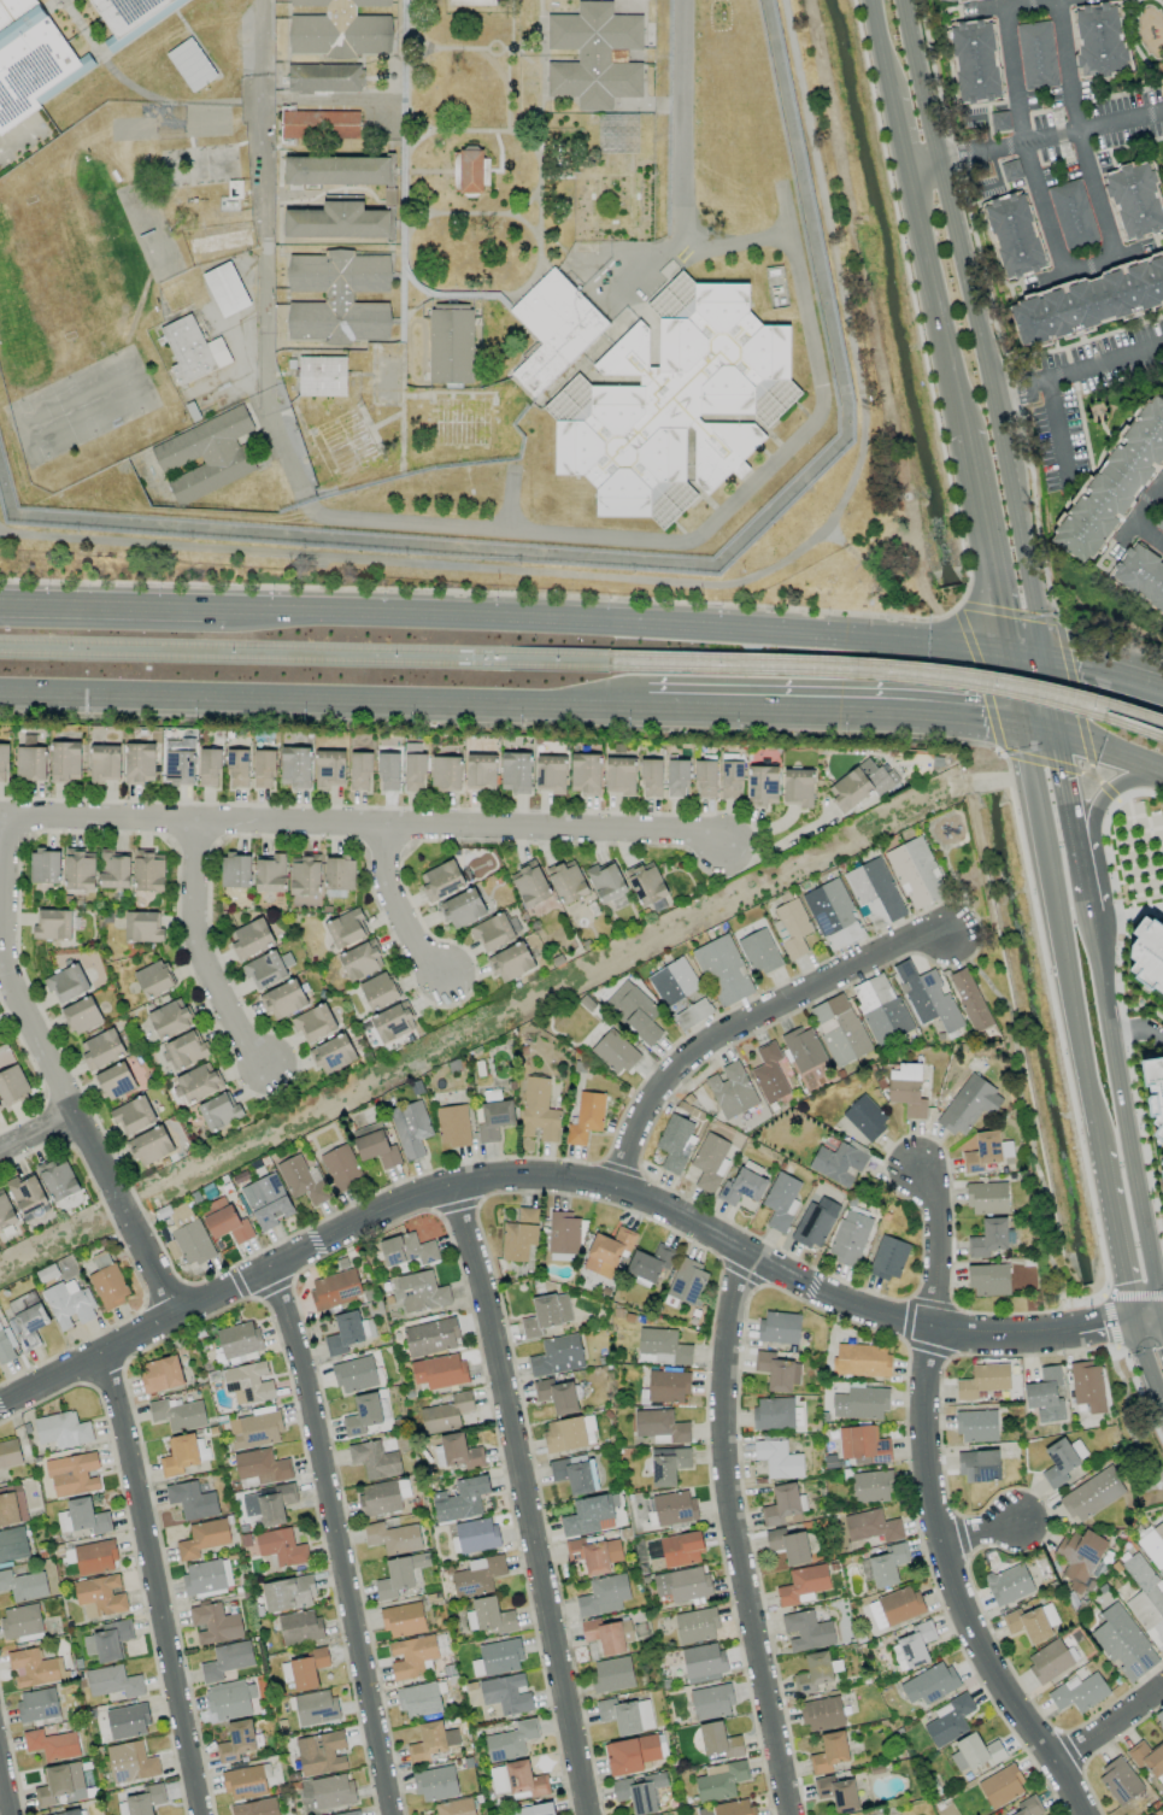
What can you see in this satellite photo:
building: (939, 0)
building: (472, 2)
road: (1015, 4)
road: (260, 17)
building: (340, 29)
building: (1099, 41)
road: (881, 47)
building: (594, 55)
building: (1035, 55)
building: (29, 60)
building: (974, 61)
building: (190, 64)
building: (325, 78)
building: (999, 121)
building: (319, 124)
road: (1076, 131)
road: (900, 133)
road: (1050, 134)
road: (1022, 143)
building: (198, 165)
road: (924, 168)
building: (337, 170)
building: (469, 170)
building: (1010, 170)
building: (1134, 200)
building: (1071, 215)
building: (337, 222)
building: (1014, 235)
building: (218, 241)
road: (1102, 264)
park: (54, 269)
road: (266, 271)
building: (225, 289)
building: (337, 296)
road: (935, 299)
building: (1088, 301)
road: (974, 328)
building: (553, 329)
building: (450, 342)
building: (192, 350)
road: (1098, 362)
building: (321, 376)
road: (1012, 389)
building: (675, 404)
park: (78, 405)
road: (1055, 431)
road: (803, 433)
building: (205, 454)
building: (1114, 483)
road: (1140, 516)
building: (1159, 523)
road: (983, 539)
building: (1140, 575)
road: (112, 609)
road: (615, 624)
railway: (303, 648)
traffic signals: (1006, 651)
road: (1027, 653)
traffic signals: (1047, 656)
railway: (304, 659)
railway: (887, 664)
road: (1104, 674)
railway: (888, 676)
road: (1014, 689)
road: (1053, 695)
road: (322, 701)
road: (748, 711)
road: (936, 718)
traffic signals: (1022, 728)
road: (1041, 732)
traffic signals: (1061, 735)
road: (1111, 754)
building: (2, 762)
building: (65, 762)
building: (104, 762)
building: (30, 763)
building: (139, 763)
building: (178, 766)
building: (295, 766)
building: (208, 768)
building: (237, 768)
building: (329, 768)
building: (413, 768)
building: (263, 769)
building: (359, 770)
building: (387, 771)
building: (480, 771)
building: (515, 771)
building: (445, 773)
building: (585, 773)
building: (550, 774)
building: (618, 775)
building: (651, 777)
building: (676, 779)
building: (705, 779)
building: (730, 780)
building: (762, 785)
building: (859, 786)
building: (797, 787)
road: (1075, 827)
road: (1094, 829)
road: (362, 830)
building: (45, 868)
building: (113, 869)
building: (77, 870)
building: (235, 870)
building: (147, 873)
building: (915, 873)
building: (270, 874)
building: (304, 875)
building: (337, 875)
building: (440, 880)
building: (566, 881)
building: (605, 881)
building: (645, 882)
building: (529, 883)
building: (874, 893)
road: (399, 906)
building: (462, 909)
road: (1127, 911)
building: (832, 915)
building: (53, 924)
building: (141, 927)
building: (345, 928)
building: (492, 932)
road: (1058, 933)
building: (249, 938)
building: (759, 952)
road: (210, 953)
building: (1147, 953)
road: (18, 957)
building: (360, 961)
building: (510, 962)
building: (268, 969)
building: (723, 970)
building: (153, 979)
building: (66, 983)
building: (377, 991)
building: (679, 993)
building: (927, 997)
building: (283, 999)
building: (969, 999)
building: (880, 1009)
building: (634, 1011)
building: (81, 1015)
building: (169, 1018)
road: (746, 1018)
building: (392, 1022)
building: (313, 1023)
road: (1138, 1027)
road: (1010, 1028)
building: (839, 1029)
building: (101, 1049)
building: (184, 1049)
building: (803, 1049)
building: (613, 1052)
building: (333, 1053)
road: (57, 1073)
building: (769, 1073)
building: (114, 1081)
building: (196, 1083)
building: (12, 1085)
building: (730, 1089)
building: (906, 1089)
building: (1155, 1092)
building: (969, 1105)
building: (218, 1111)
building: (539, 1111)
building: (133, 1115)
building: (587, 1115)
road: (1122, 1116)
building: (865, 1117)
building: (492, 1120)
building: (452, 1126)
building: (410, 1128)
road: (37, 1132)
building: (675, 1143)
building: (375, 1145)
building: (149, 1146)
building: (985, 1151)
building: (710, 1162)
building: (838, 1163)
building: (1161, 1165)
building: (340, 1167)
road: (527, 1177)
building: (58, 1179)
building: (301, 1180)
building: (742, 1185)
building: (27, 1192)
building: (987, 1198)
building: (266, 1202)
building: (781, 1202)
building: (6, 1212)
building: (225, 1221)
building: (815, 1223)
road: (1112, 1228)
building: (187, 1233)
building: (519, 1235)
building: (850, 1235)
building: (563, 1237)
building: (989, 1238)
road: (933, 1247)
building: (407, 1250)
building: (607, 1251)
building: (888, 1258)
building: (648, 1264)
building: (988, 1280)
building: (687, 1282)
building: (108, 1286)
building: (334, 1288)
building: (421, 1292)
road: (1134, 1297)
building: (69, 1304)
building: (546, 1314)
road: (1162, 1314)
traffic signals: (1161, 1315)
road: (1145, 1316)
building: (27, 1317)
traffic signals: (1130, 1318)
road: (1162, 1318)
road: (1112, 1321)
road: (1102, 1322)
building: (779, 1327)
building: (343, 1333)
building: (431, 1337)
building: (239, 1339)
building: (6, 1345)
building: (662, 1346)
building: (557, 1356)
building: (862, 1359)
road: (1145, 1365)
building: (439, 1371)
building: (776, 1371)
building: (160, 1374)
building: (354, 1374)
building: (983, 1380)
building: (248, 1382)
building: (668, 1386)
building: (1087, 1386)
building: (1045, 1394)
building: (556, 1396)
building: (860, 1403)
building: (446, 1412)
building: (177, 1414)
building: (364, 1414)
building: (774, 1414)
road: (1121, 1417)
building: (660, 1425)
building: (976, 1426)
building: (255, 1428)
building: (61, 1429)
building: (564, 1434)
building: (863, 1444)
building: (458, 1451)
building: (10, 1453)
building: (178, 1455)
building: (779, 1458)
building: (374, 1459)
building: (1061, 1461)
building: (668, 1464)
building: (260, 1465)
building: (979, 1465)
building: (575, 1474)
building: (72, 1475)
building: (871, 1486)
building: (1092, 1493)
building: (382, 1497)
building: (460, 1499)
road: (519, 1499)
building: (192, 1500)
building: (269, 1504)
building: (12, 1505)
building: (783, 1505)
building: (674, 1508)
building: (589, 1515)
building: (82, 1517)
building: (870, 1526)
road: (979, 1529)
road: (732, 1533)
building: (474, 1535)
building: (202, 1538)
building: (393, 1538)
road: (336, 1539)
building: (12, 1544)
building: (788, 1545)
building: (1153, 1545)
building: (281, 1547)
building: (680, 1549)
building: (594, 1553)
building: (95, 1556)
building: (1079, 1557)
building: (885, 1566)
building: (400, 1575)
building: (207, 1576)
building: (477, 1576)
road: (149, 1584)
building: (683, 1584)
building: (1009, 1584)
building: (23, 1585)
building: (803, 1585)
road: (950, 1586)
building: (288, 1593)
building: (99, 1596)
building: (603, 1596)
building: (1146, 1599)
building: (894, 1608)
building: (489, 1616)
building: (403, 1620)
building: (215, 1623)
building: (1027, 1625)
building: (695, 1626)
building: (299, 1627)
building: (806, 1631)
building: (607, 1634)
building: (108, 1640)
building: (1123, 1643)
building: (912, 1646)
building: (412, 1655)
building: (497, 1658)
building: (227, 1660)
building: (1049, 1661)
building: (703, 1662)
building: (34, 1668)
building: (305, 1668)
building: (812, 1673)
building: (612, 1674)
building: (113, 1681)
building: (929, 1684)
building: (1079, 1692)
building: (506, 1693)
building: (230, 1699)
building: (418, 1699)
building: (711, 1702)
building: (37, 1705)
building: (315, 1707)
building: (488, 1711)
building: (822, 1714)
building: (625, 1715)
building: (1159, 1717)
building: (948, 1720)
building: (128, 1721)
road: (1109, 1723)
building: (430, 1740)
building: (718, 1740)
building: (236, 1741)
building: (510, 1741)
building: (51, 1744)
building: (321, 1752)
building: (829, 1752)
building: (975, 1752)
building: (630, 1755)
building: (1146, 1757)
building: (130, 1762)
building: (517, 1779)
building: (719, 1780)
building: (1118, 1781)
building: (59, 1782)
building: (243, 1782)
building: (435, 1784)
building: (1002, 1786)
road: (5, 1787)
building: (331, 1791)
building: (639, 1792)
building: (836, 1793)
building: (141, 1801)
building: (454, 1807)
building: (1028, 1807)
building: (255, 1808)
building: (733, 1808)
building: (533, 1809)
building: (705, 1811)
building: (65, 1813)
building: (348, 1813)

